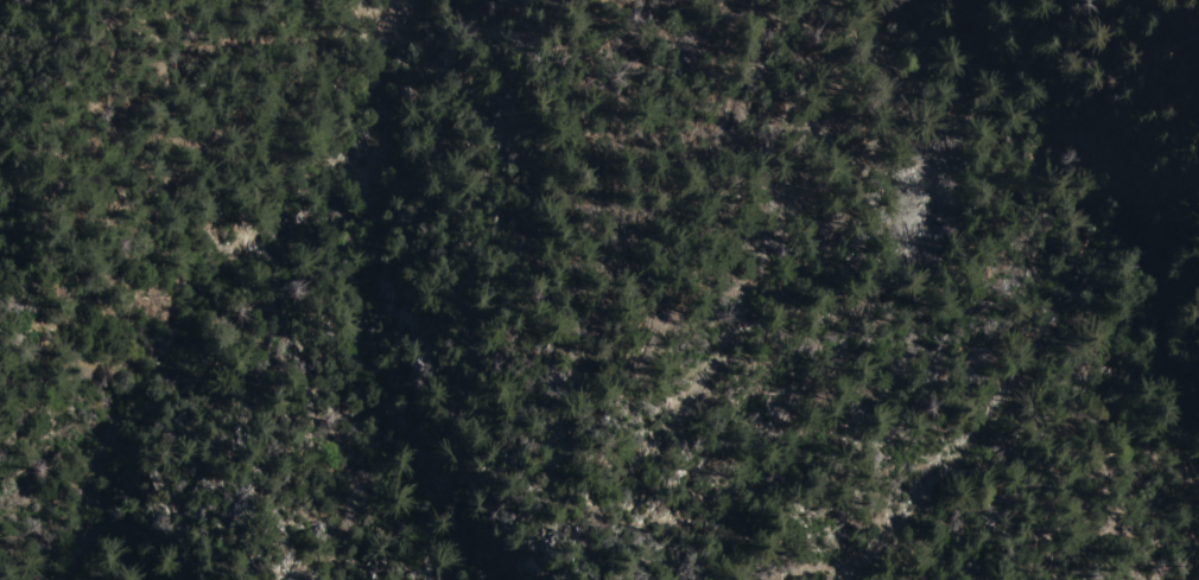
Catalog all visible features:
road: (1197, 111)
road: (1041, 178)
road: (1190, 221)

